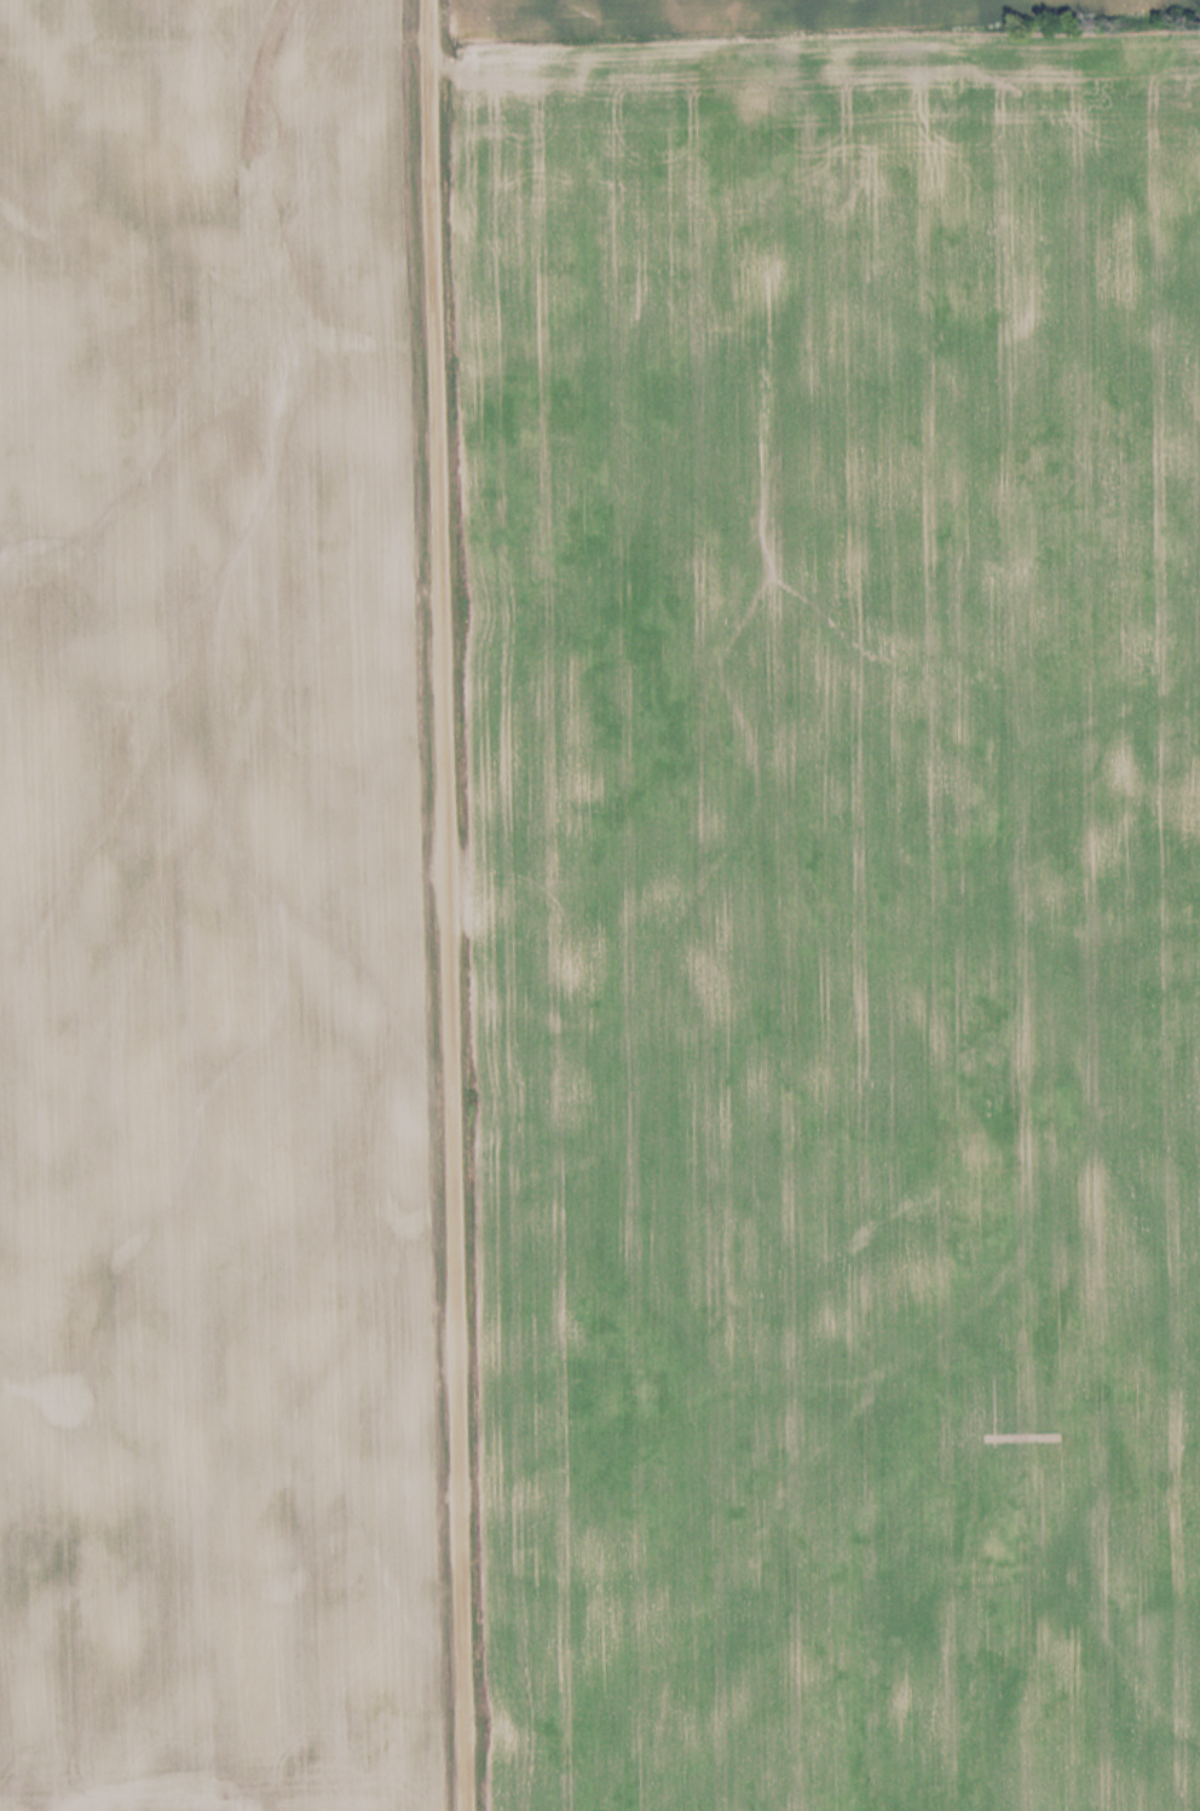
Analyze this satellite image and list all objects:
road: (214, 53)
road: (443, 905)

